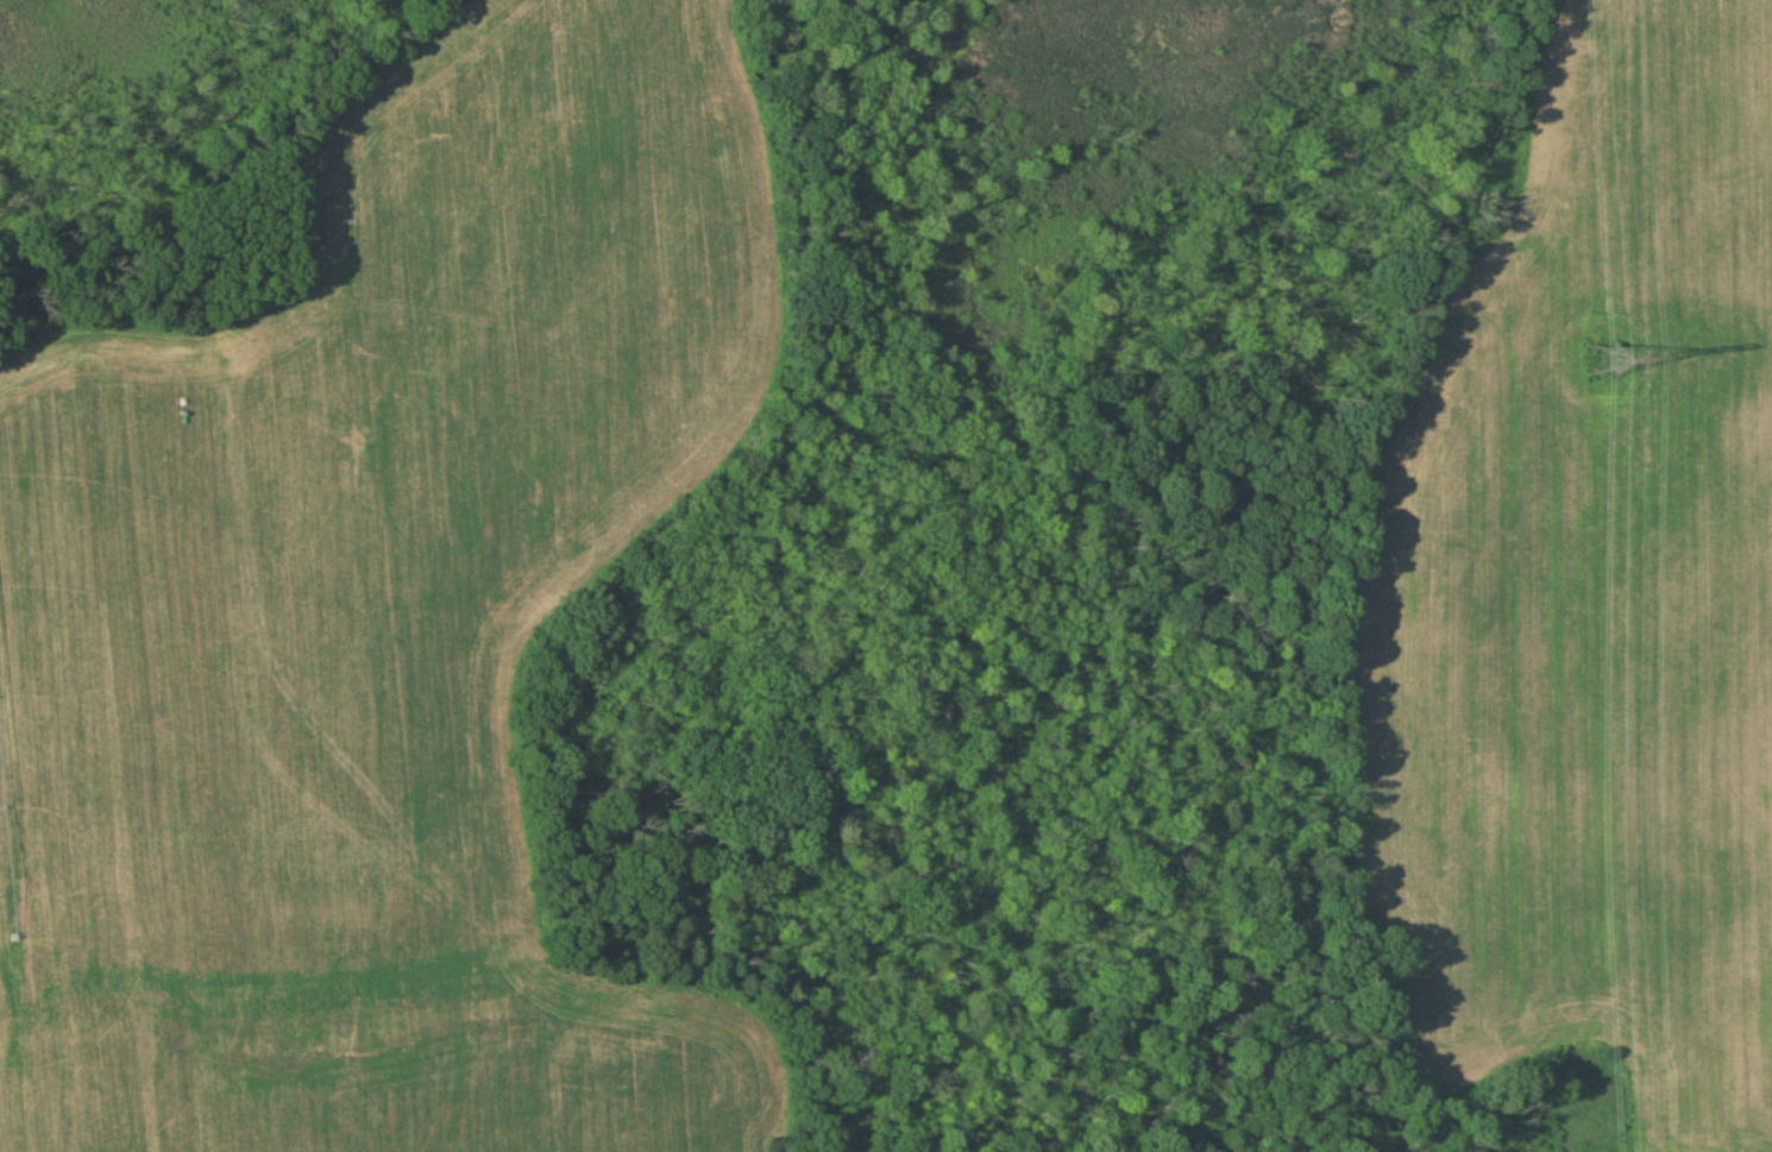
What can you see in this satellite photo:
power tower: (1600, 359)

